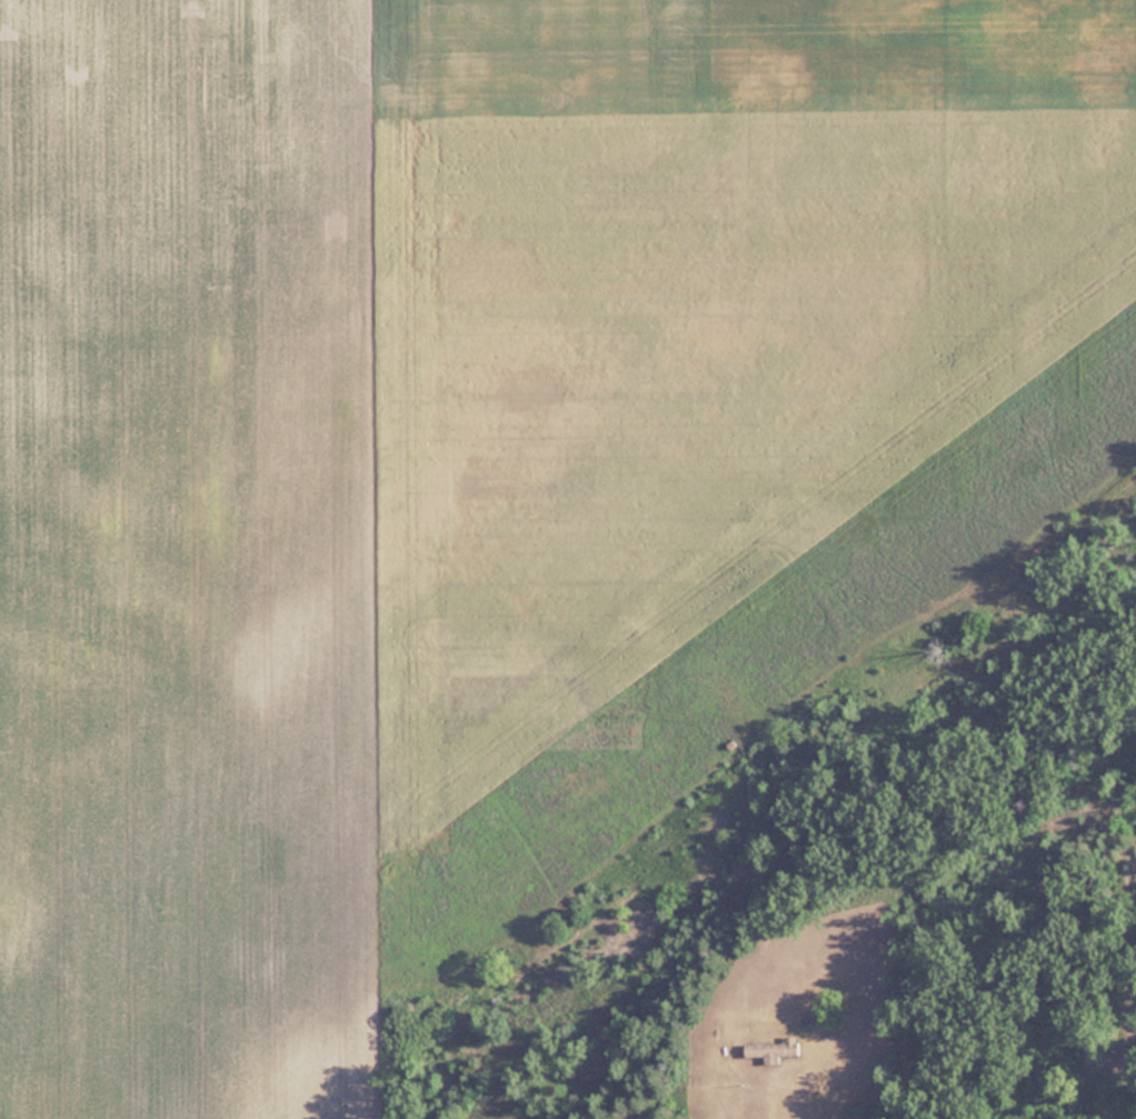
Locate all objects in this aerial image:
road: (736, 801)
building: (769, 1050)

